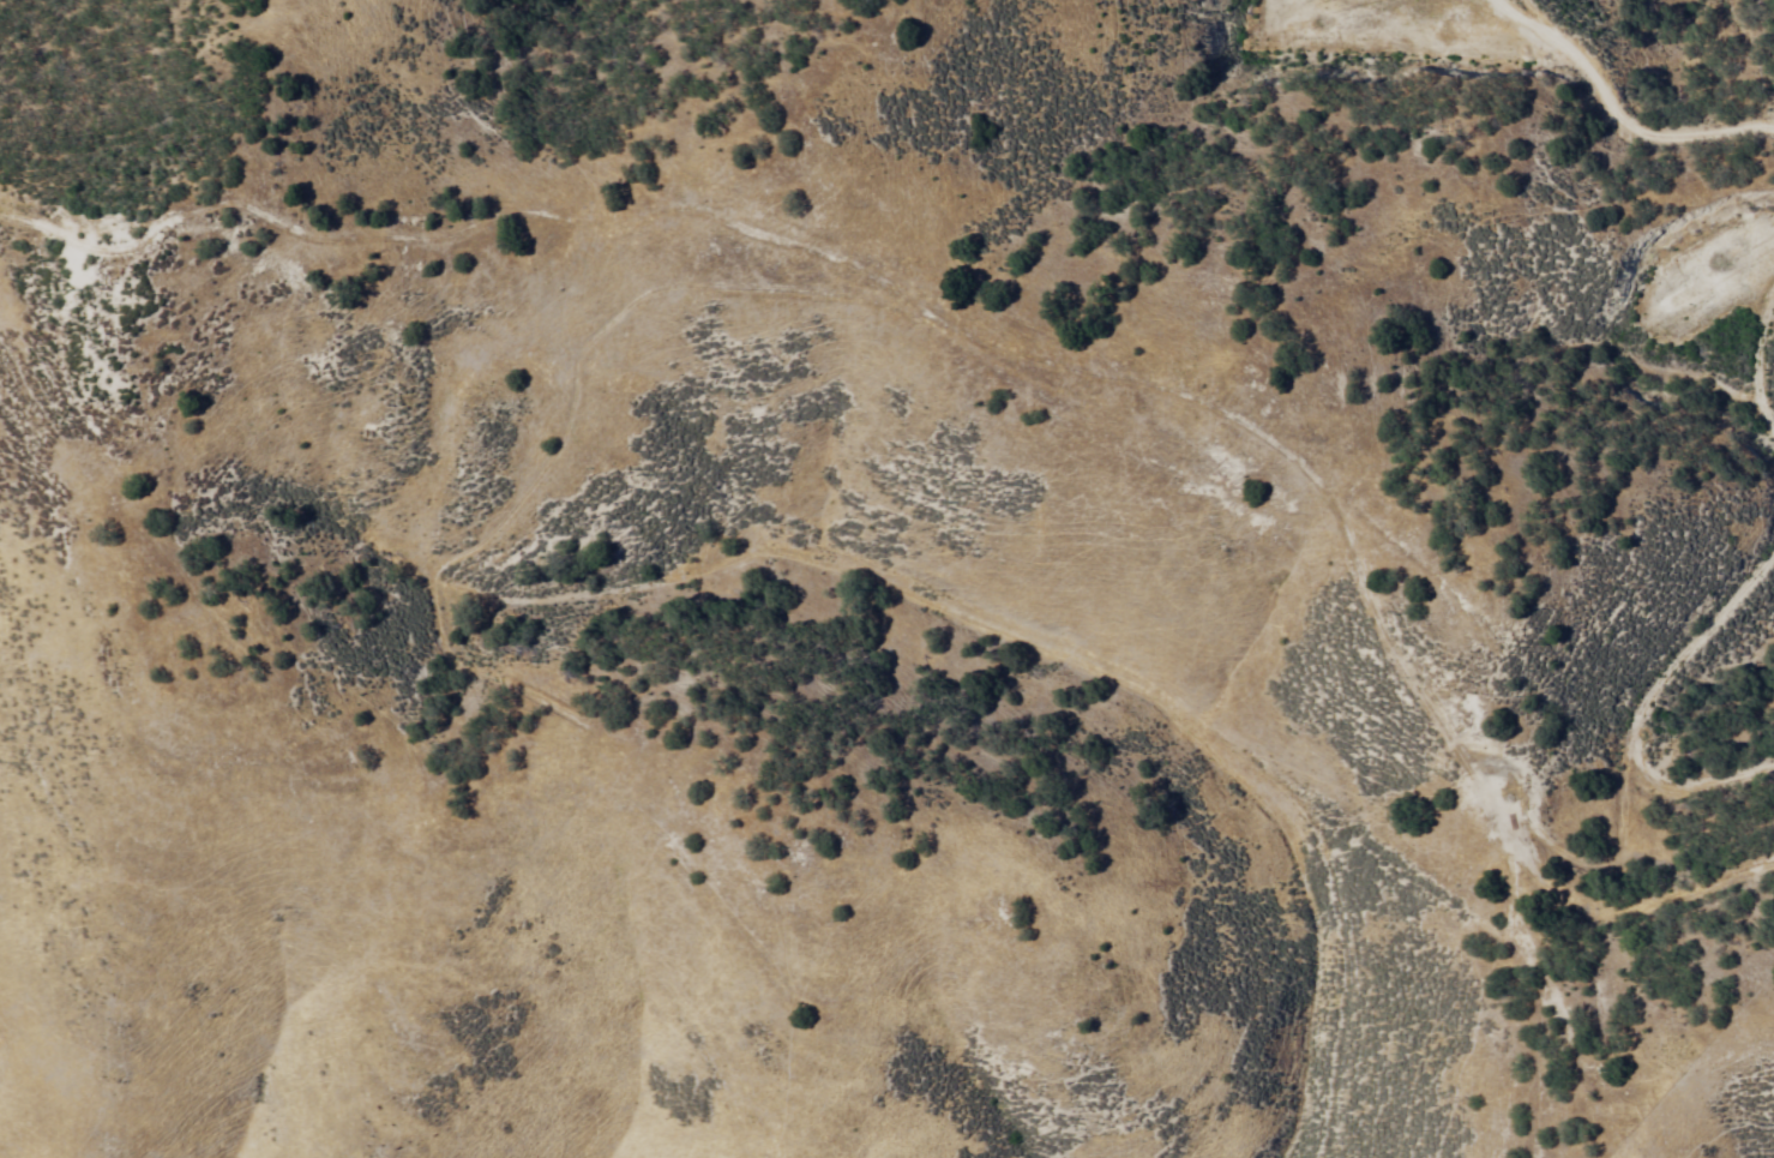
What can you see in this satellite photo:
road: (1604, 348)
road: (1319, 450)

